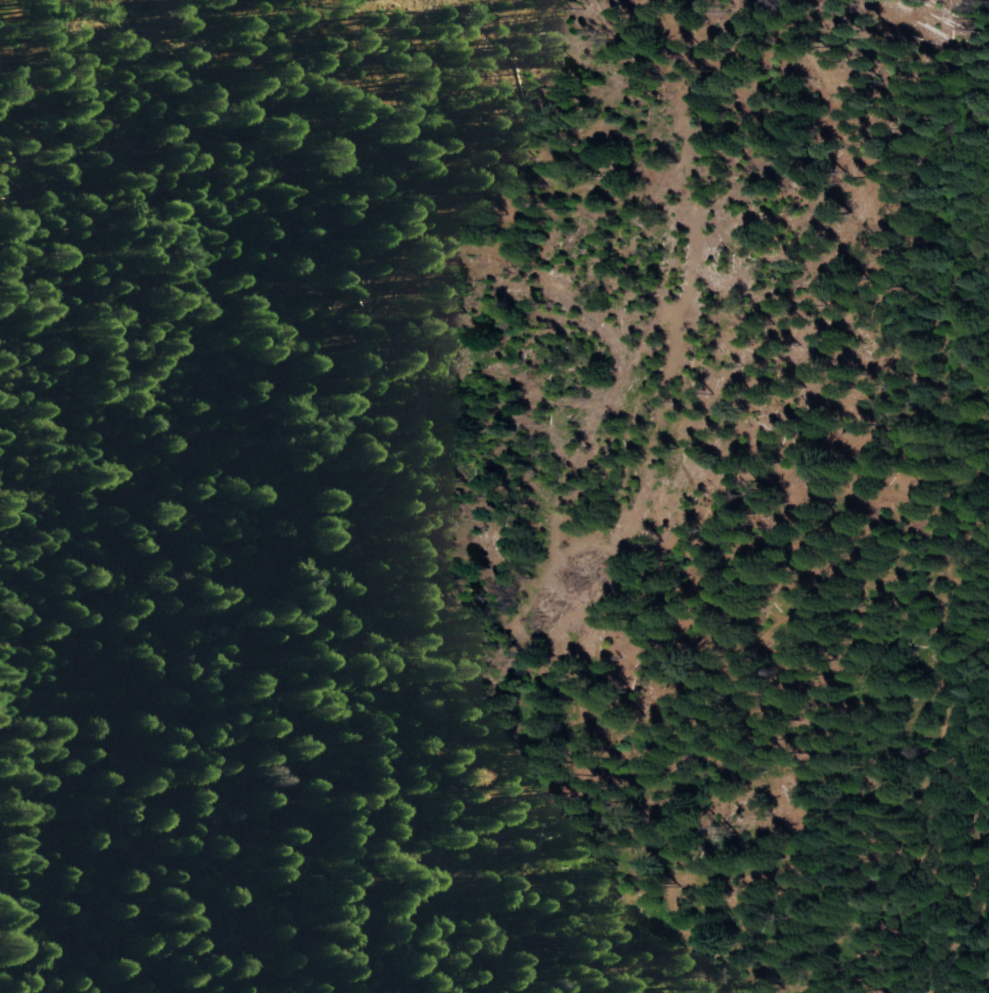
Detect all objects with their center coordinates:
road: (130, 20)

